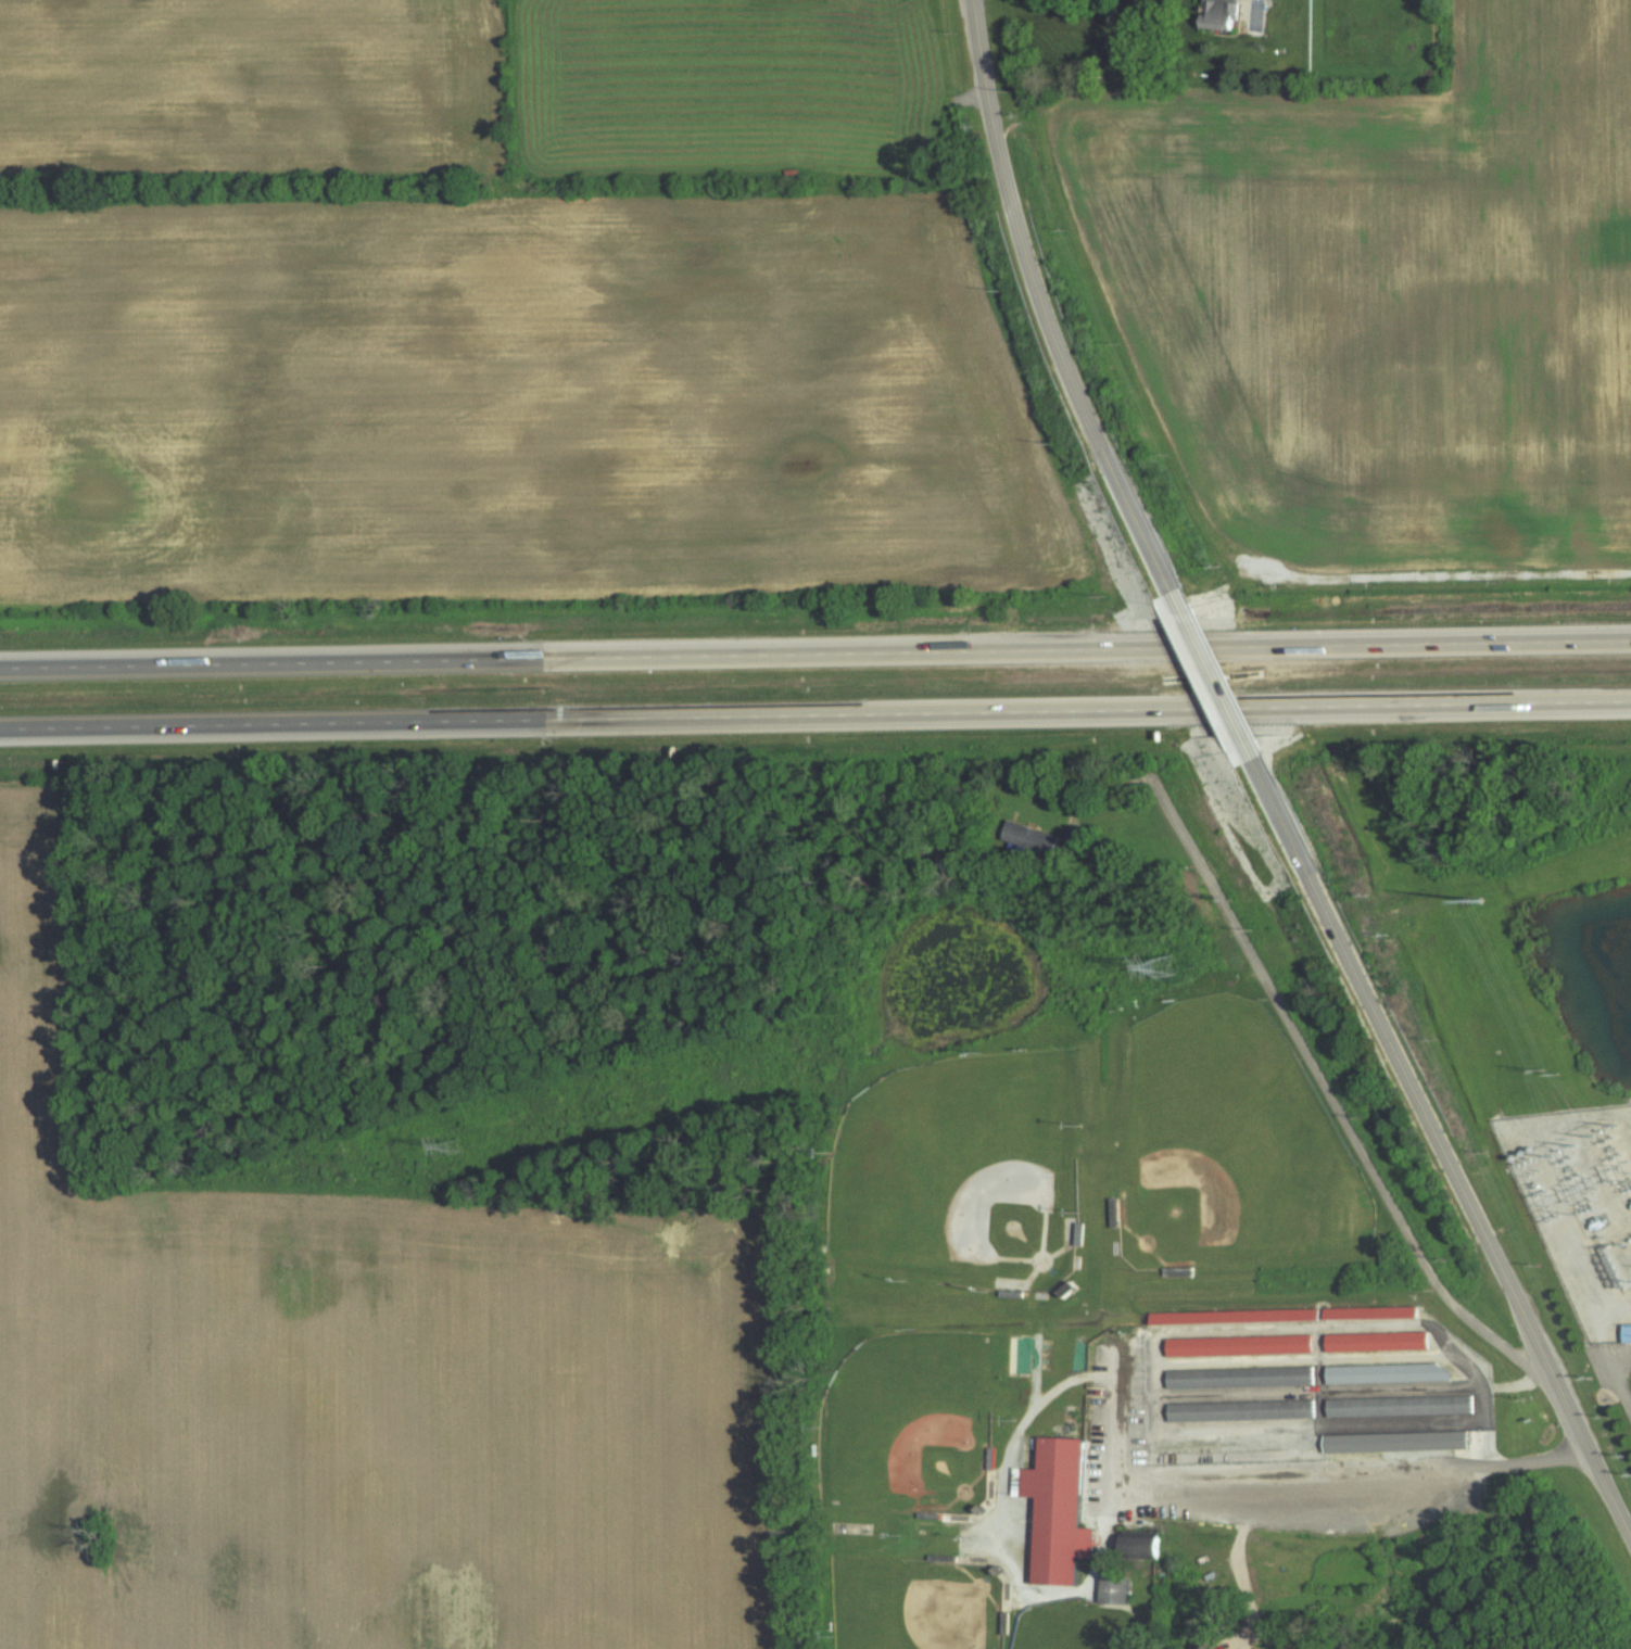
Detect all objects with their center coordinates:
building: (1223, 14)
road: (1046, 309)
road: (815, 654)
road: (1215, 677)
road: (815, 714)
building: (1042, 835)
power tower: (1162, 966)
road: (1348, 1126)
park: (1227, 1143)
road: (1442, 1145)
power tower: (455, 1147)
park: (959, 1174)
power substation: (1581, 1205)
building: (1368, 1311)
building: (1232, 1315)
building: (1627, 1332)
road: (1607, 1340)
building: (1375, 1341)
building: (1238, 1345)
building: (1386, 1372)
building: (1239, 1377)
building: (1399, 1405)
building: (1240, 1410)
park: (908, 1423)
building: (1399, 1443)
road: (1318, 1489)
building: (1057, 1510)
road: (1101, 1537)
building: (1153, 1548)
road: (1234, 1560)
building: (1117, 1589)
park: (915, 1604)
park: (1075, 1626)

